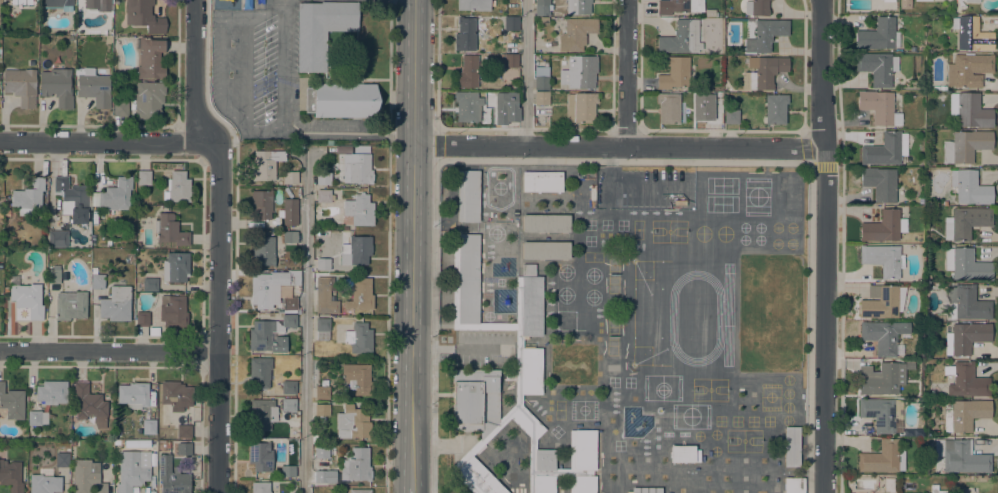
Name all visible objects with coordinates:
building: (888, 0)
building: (925, 0)
building: (971, 1)
building: (21, 2)
road: (285, 3)
building: (59, 4)
building: (98, 4)
building: (475, 4)
building: (905, 4)
building: (578, 6)
building: (676, 6)
building: (757, 7)
building: (542, 8)
road: (265, 10)
building: (144, 16)
building: (543, 19)
building: (511, 23)
building: (321, 30)
building: (575, 33)
building: (465, 34)
building: (971, 34)
building: (765, 35)
building: (878, 35)
building: (680, 37)
building: (716, 47)
building: (149, 57)
building: (510, 60)
road: (223, 63)
road: (436, 63)
building: (877, 67)
road: (281, 68)
building: (968, 69)
road: (246, 70)
building: (579, 71)
building: (763, 71)
road: (194, 72)
building: (467, 73)
road: (524, 73)
road: (627, 73)
building: (675, 73)
building: (117, 74)
building: (541, 82)
building: (21, 85)
building: (57, 86)
building: (93, 87)
building: (942, 88)
building: (541, 98)
building: (341, 99)
building: (149, 100)
building: (877, 105)
building: (467, 106)
building: (580, 107)
building: (669, 107)
building: (120, 108)
building: (775, 108)
building: (969, 110)
building: (512, 114)
building: (712, 116)
building: (731, 116)
road: (263, 128)
road: (333, 130)
road: (400, 132)
road: (105, 141)
building: (329, 143)
road: (621, 146)
building: (965, 146)
building: (268, 147)
building: (359, 148)
building: (340, 149)
building: (882, 150)
road: (622, 162)
building: (265, 164)
building: (358, 169)
building: (143, 177)
building: (290, 177)
building: (323, 178)
building: (542, 181)
building: (880, 183)
building: (178, 187)
building: (970, 187)
building: (114, 195)
building: (324, 195)
building: (28, 196)
building: (468, 196)
building: (72, 199)
building: (261, 203)
building: (359, 209)
building: (289, 211)
building: (1, 215)
building: (6, 215)
building: (40, 217)
building: (130, 222)
building: (965, 222)
building: (545, 223)
building: (885, 226)
building: (130, 229)
building: (169, 229)
building: (289, 236)
building: (57, 238)
road: (414, 243)
road: (388, 246)
road: (825, 246)
building: (356, 250)
building: (545, 250)
building: (263, 251)
building: (881, 259)
building: (323, 264)
building: (966, 264)
building: (175, 267)
building: (94, 269)
building: (53, 274)
building: (97, 281)
building: (465, 281)
building: (150, 284)
building: (138, 285)
building: (270, 287)
building: (5, 289)
building: (360, 294)
building: (325, 297)
building: (28, 299)
building: (882, 301)
building: (966, 303)
building: (116, 304)
building: (289, 304)
building: (70, 305)
building: (172, 311)
road: (217, 315)
building: (142, 319)
road: (304, 320)
building: (497, 326)
building: (322, 329)
building: (154, 331)
building: (528, 331)
building: (270, 333)
building: (883, 335)
building: (965, 337)
building: (359, 338)
road: (459, 348)
road: (108, 350)
building: (259, 372)
building: (357, 378)
building: (880, 380)
building: (967, 381)
building: (324, 382)
building: (288, 387)
building: (51, 392)
building: (322, 392)
building: (133, 395)
building: (175, 395)
building: (518, 399)
building: (476, 401)
building: (12, 402)
building: (90, 404)
building: (288, 404)
building: (322, 410)
building: (882, 413)
building: (263, 414)
building: (964, 414)
building: (37, 418)
building: (522, 421)
building: (352, 423)
building: (148, 426)
building: (184, 431)
building: (936, 432)
building: (264, 434)
building: (314, 439)
building: (532, 443)
building: (167, 444)
building: (791, 446)
building: (184, 449)
building: (322, 452)
building: (682, 453)
building: (260, 456)
building: (963, 457)
building: (882, 458)
building: (62, 460)
building: (581, 461)
building: (356, 465)
building: (133, 469)
building: (541, 470)
building: (287, 471)
building: (561, 472)
building: (475, 473)
building: (11, 476)
building: (171, 476)
building: (321, 476)
building: (87, 477)
building: (44, 482)
building: (889, 484)
building: (793, 485)
building: (260, 487)
building: (935, 489)
road: (412, 490)
building: (646, 490)
building: (360, 491)

